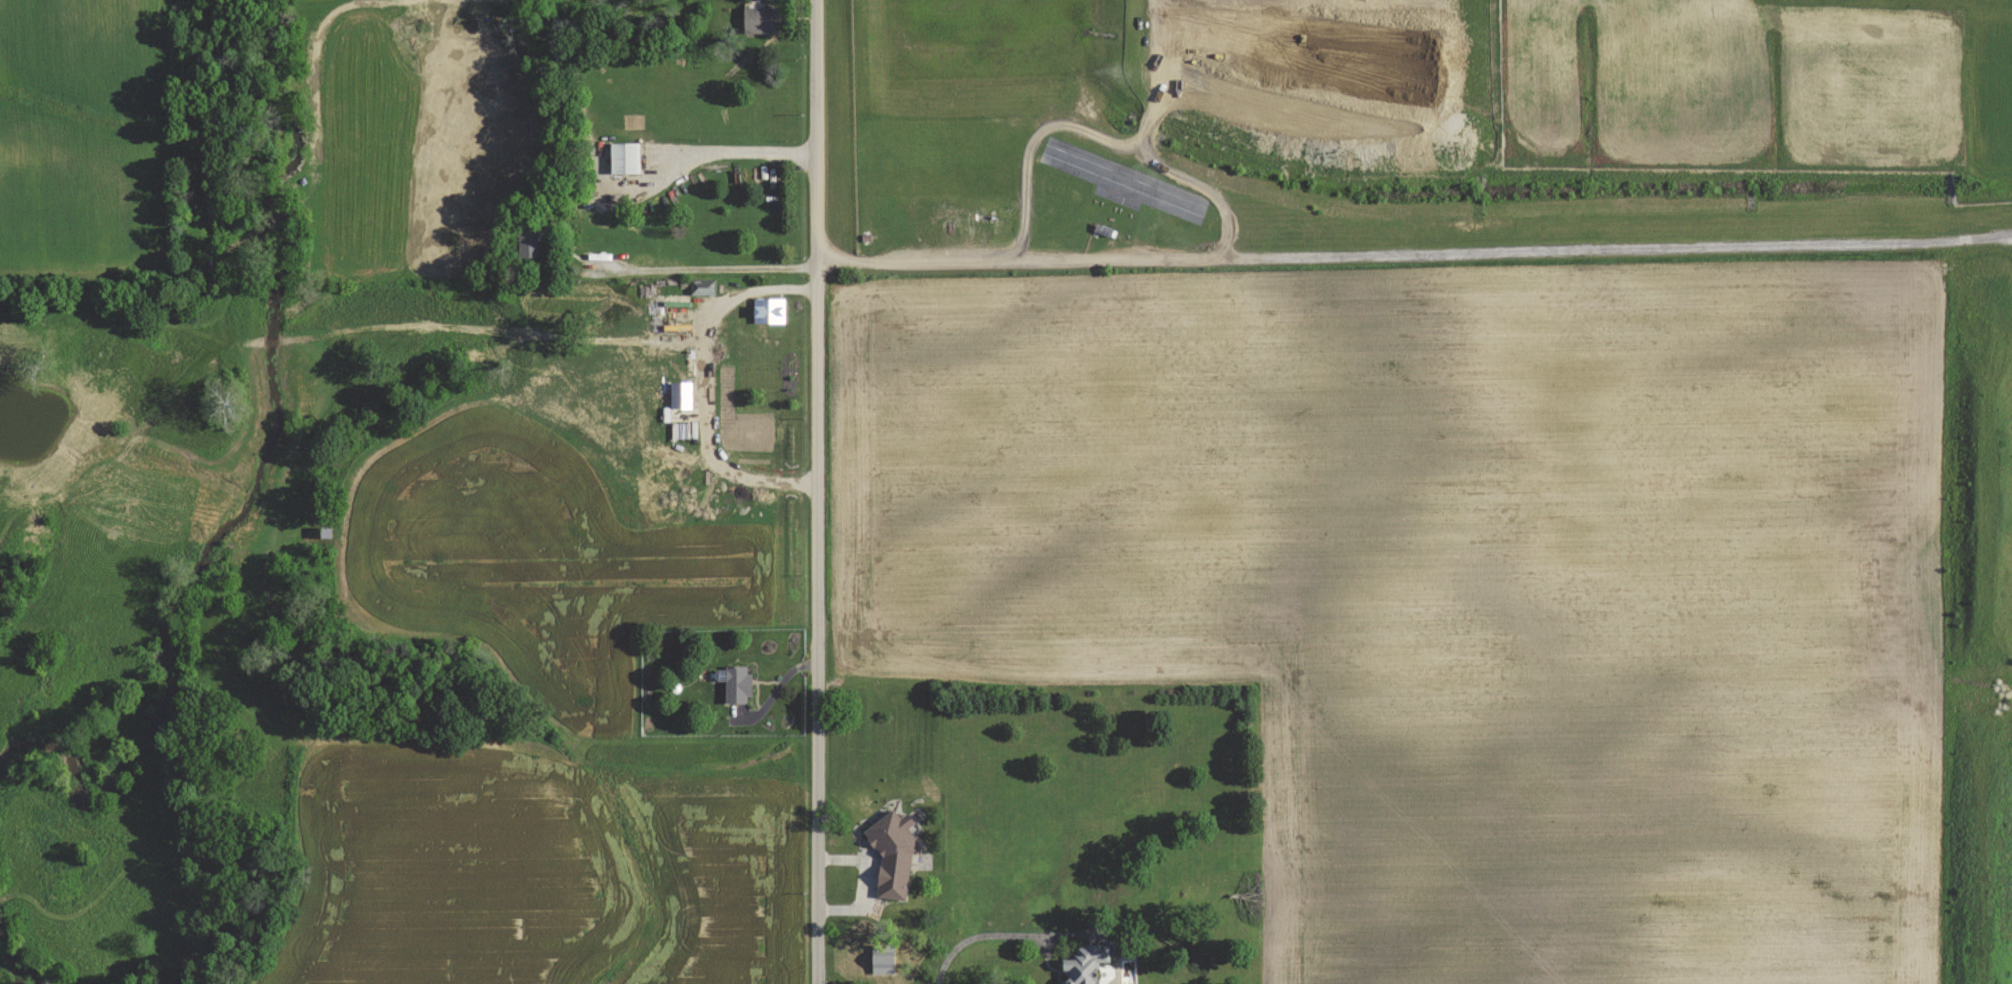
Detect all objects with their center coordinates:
building: (761, 19)
airport: (1762, 85)
road: (732, 150)
building: (624, 157)
building: (527, 241)
road: (960, 261)
road: (705, 272)
building: (702, 287)
building: (768, 310)
road: (705, 386)
building: (678, 394)
road: (814, 492)
building: (734, 683)
building: (890, 853)
road: (989, 937)
building: (1082, 964)

